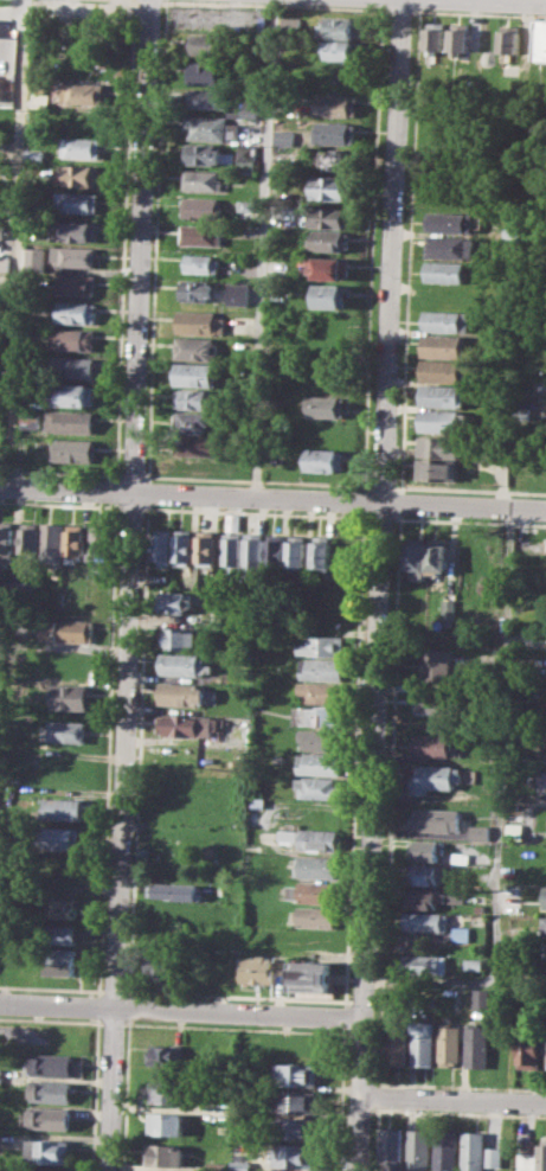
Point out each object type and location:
building: (293, 23)
building: (346, 26)
building: (438, 37)
building: (462, 37)
building: (539, 39)
building: (510, 41)
building: (210, 45)
building: (342, 50)
road: (526, 68)
building: (210, 72)
building: (0, 87)
building: (84, 91)
building: (214, 97)
building: (40, 101)
building: (336, 105)
building: (251, 108)
building: (214, 127)
building: (336, 133)
building: (287, 137)
building: (83, 147)
building: (210, 154)
building: (249, 159)
building: (340, 159)
building: (84, 174)
building: (205, 180)
building: (333, 187)
building: (81, 200)
building: (205, 207)
building: (252, 207)
building: (332, 217)
building: (451, 220)
building: (4, 228)
building: (76, 231)
building: (204, 235)
building: (332, 241)
road: (19, 244)
building: (452, 245)
road: (264, 250)
building: (76, 256)
building: (38, 257)
building: (6, 262)
building: (205, 264)
building: (332, 267)
building: (447, 271)
building: (77, 284)
building: (200, 290)
building: (243, 293)
building: (335, 296)
building: (76, 312)
building: (449, 320)
building: (204, 322)
building: (73, 339)
building: (444, 345)
building: (199, 348)
building: (72, 366)
building: (443, 370)
building: (199, 373)
building: (75, 395)
building: (443, 396)
building: (194, 399)
building: (327, 405)
building: (522, 414)
building: (31, 417)
building: (442, 421)
building: (71, 422)
building: (193, 422)
building: (327, 433)
building: (200, 446)
building: (439, 446)
building: (72, 450)
building: (327, 460)
building: (438, 469)
road: (272, 500)
building: (30, 538)
building: (52, 540)
building: (6, 542)
building: (75, 542)
building: (99, 544)
building: (232, 544)
building: (162, 545)
building: (184, 546)
building: (206, 548)
building: (255, 551)
building: (276, 551)
building: (297, 551)
building: (322, 552)
building: (438, 555)
building: (417, 556)
road: (130, 584)
road: (379, 585)
building: (172, 601)
building: (448, 609)
building: (66, 631)
building: (178, 636)
building: (322, 645)
building: (182, 664)
building: (437, 665)
building: (321, 668)
building: (320, 692)
building: (180, 693)
building: (68, 696)
building: (433, 700)
building: (315, 716)
building: (184, 724)
building: (65, 730)
building: (319, 738)
building: (431, 746)
building: (317, 762)
building: (433, 776)
building: (540, 778)
building: (316, 786)
building: (253, 801)
building: (63, 810)
road: (500, 810)
building: (253, 818)
building: (435, 819)
building: (513, 830)
building: (545, 830)
building: (478, 832)
building: (63, 838)
building: (309, 838)
building: (426, 850)
building: (460, 858)
building: (314, 865)
building: (424, 872)
building: (173, 890)
building: (313, 891)
building: (456, 896)
building: (423, 897)
building: (545, 897)
building: (63, 907)
building: (314, 916)
building: (426, 921)
building: (544, 926)
building: (163, 933)
building: (62, 934)
building: (544, 948)
building: (14, 956)
building: (62, 961)
building: (425, 964)
building: (474, 964)
building: (161, 966)
building: (258, 968)
building: (542, 971)
building: (310, 978)
building: (482, 998)
road: (181, 1010)
parking lot: (24, 1034)
building: (398, 1041)
building: (424, 1042)
building: (451, 1042)
building: (478, 1045)
building: (531, 1047)
building: (297, 1048)
building: (167, 1056)
building: (52, 1064)
building: (545, 1067)
building: (297, 1075)
building: (52, 1090)
building: (167, 1092)
road: (454, 1099)
building: (297, 1101)
building: (50, 1118)
building: (166, 1122)
building: (295, 1127)
building: (392, 1148)
building: (419, 1150)
building: (447, 1150)
building: (49, 1151)
building: (480, 1152)
building: (165, 1154)
building: (296, 1154)
building: (542, 1154)
building: (240, 1165)
building: (39, 1170)

